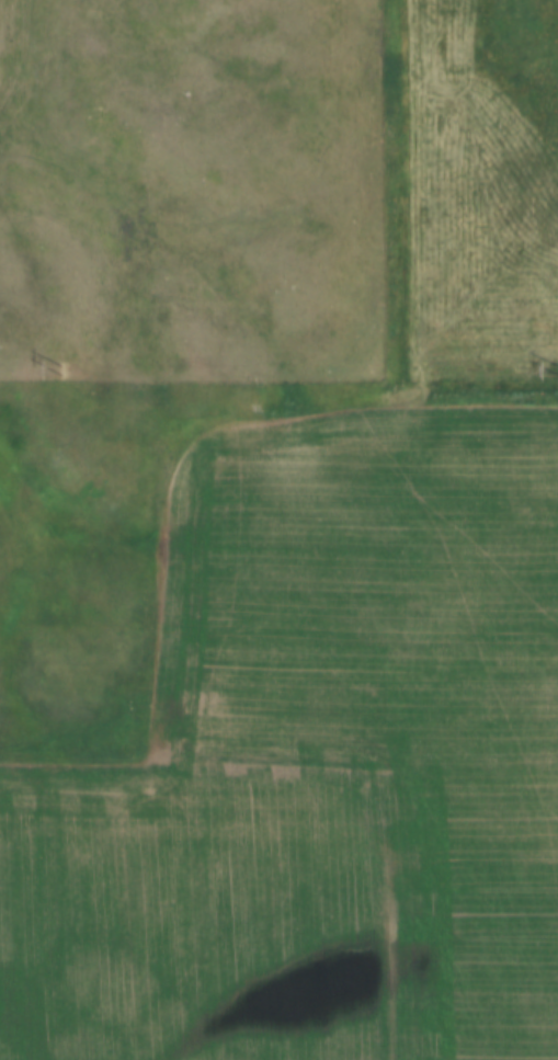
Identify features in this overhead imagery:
road: (327, 772)

